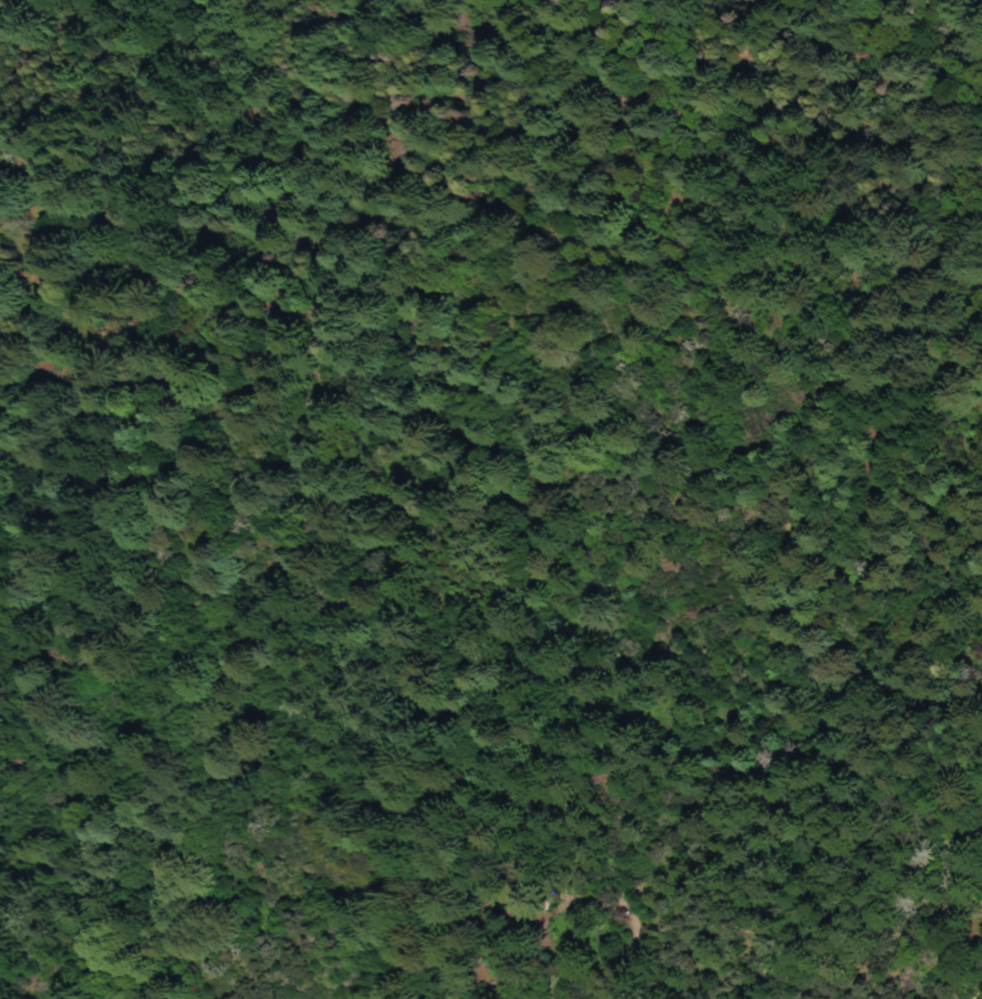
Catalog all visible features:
crop: (129, 304)
road: (833, 370)
road: (884, 476)
road: (224, 606)
road: (974, 991)

